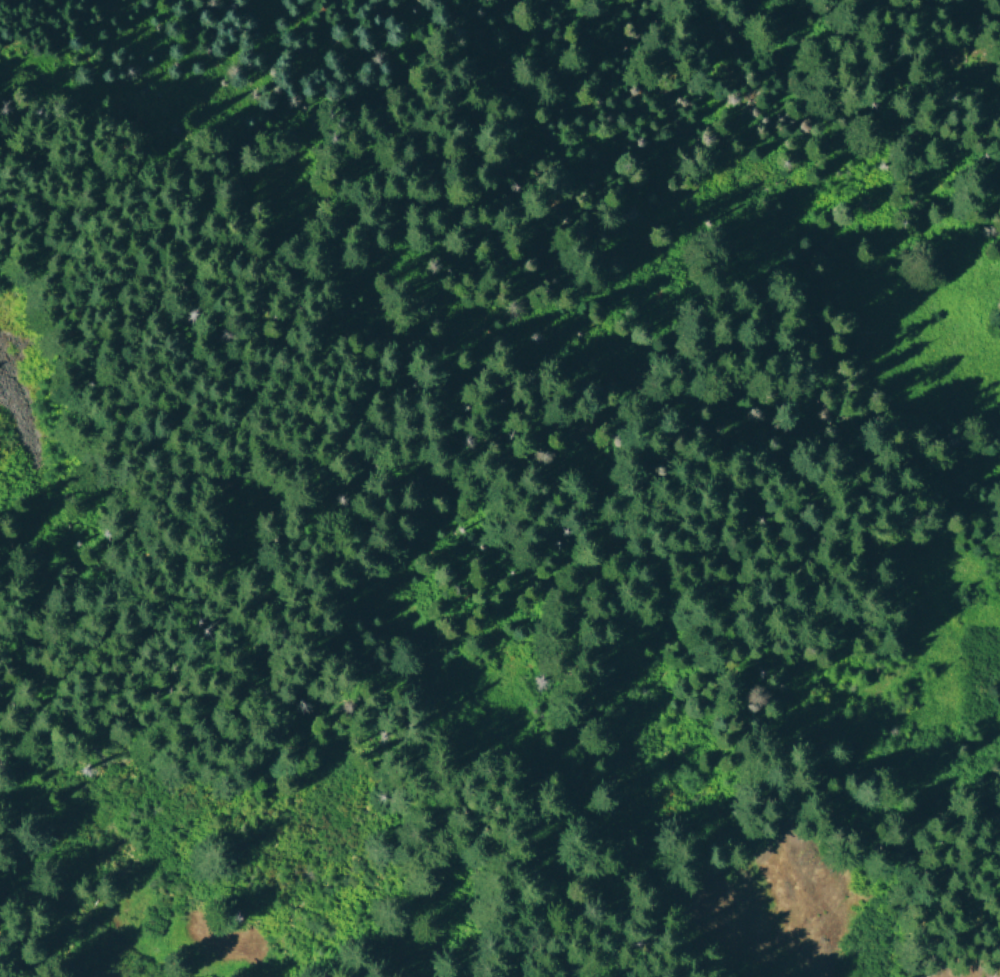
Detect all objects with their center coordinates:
road: (994, 4)
road: (311, 207)

